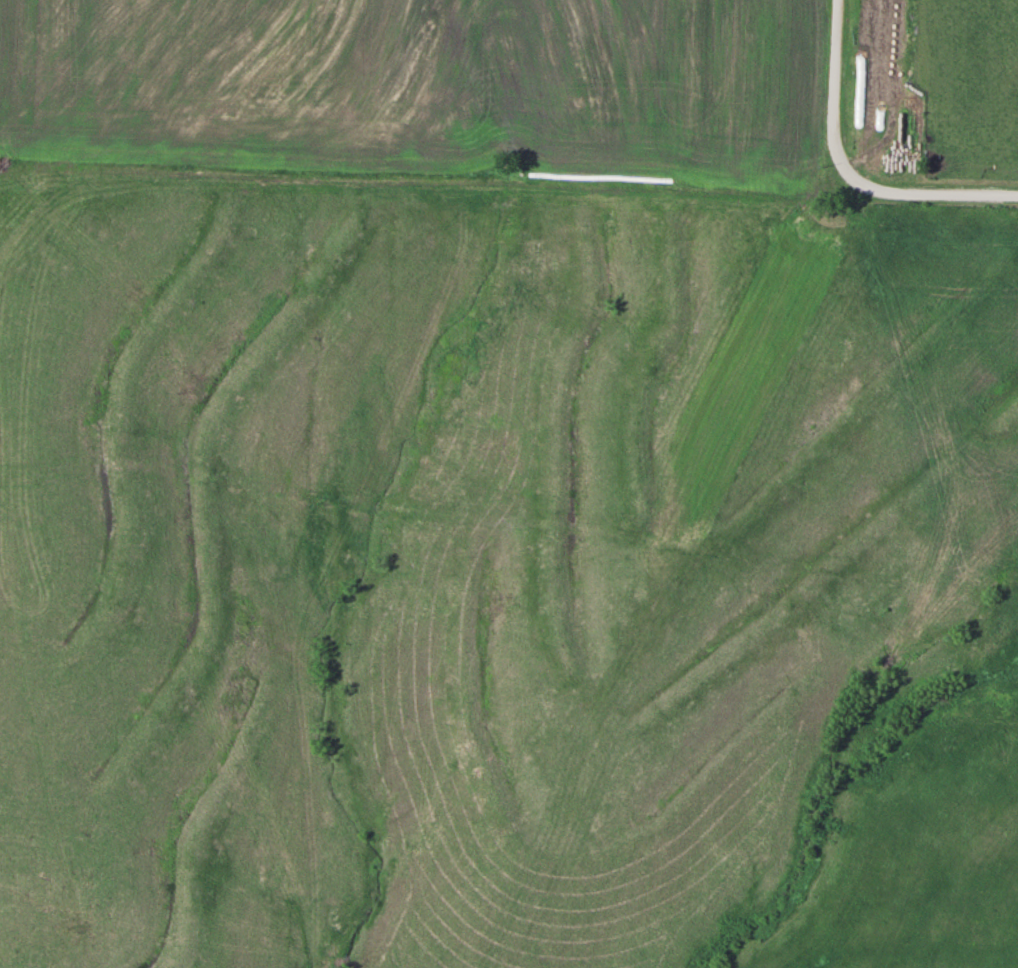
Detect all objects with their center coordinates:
road: (847, 173)

